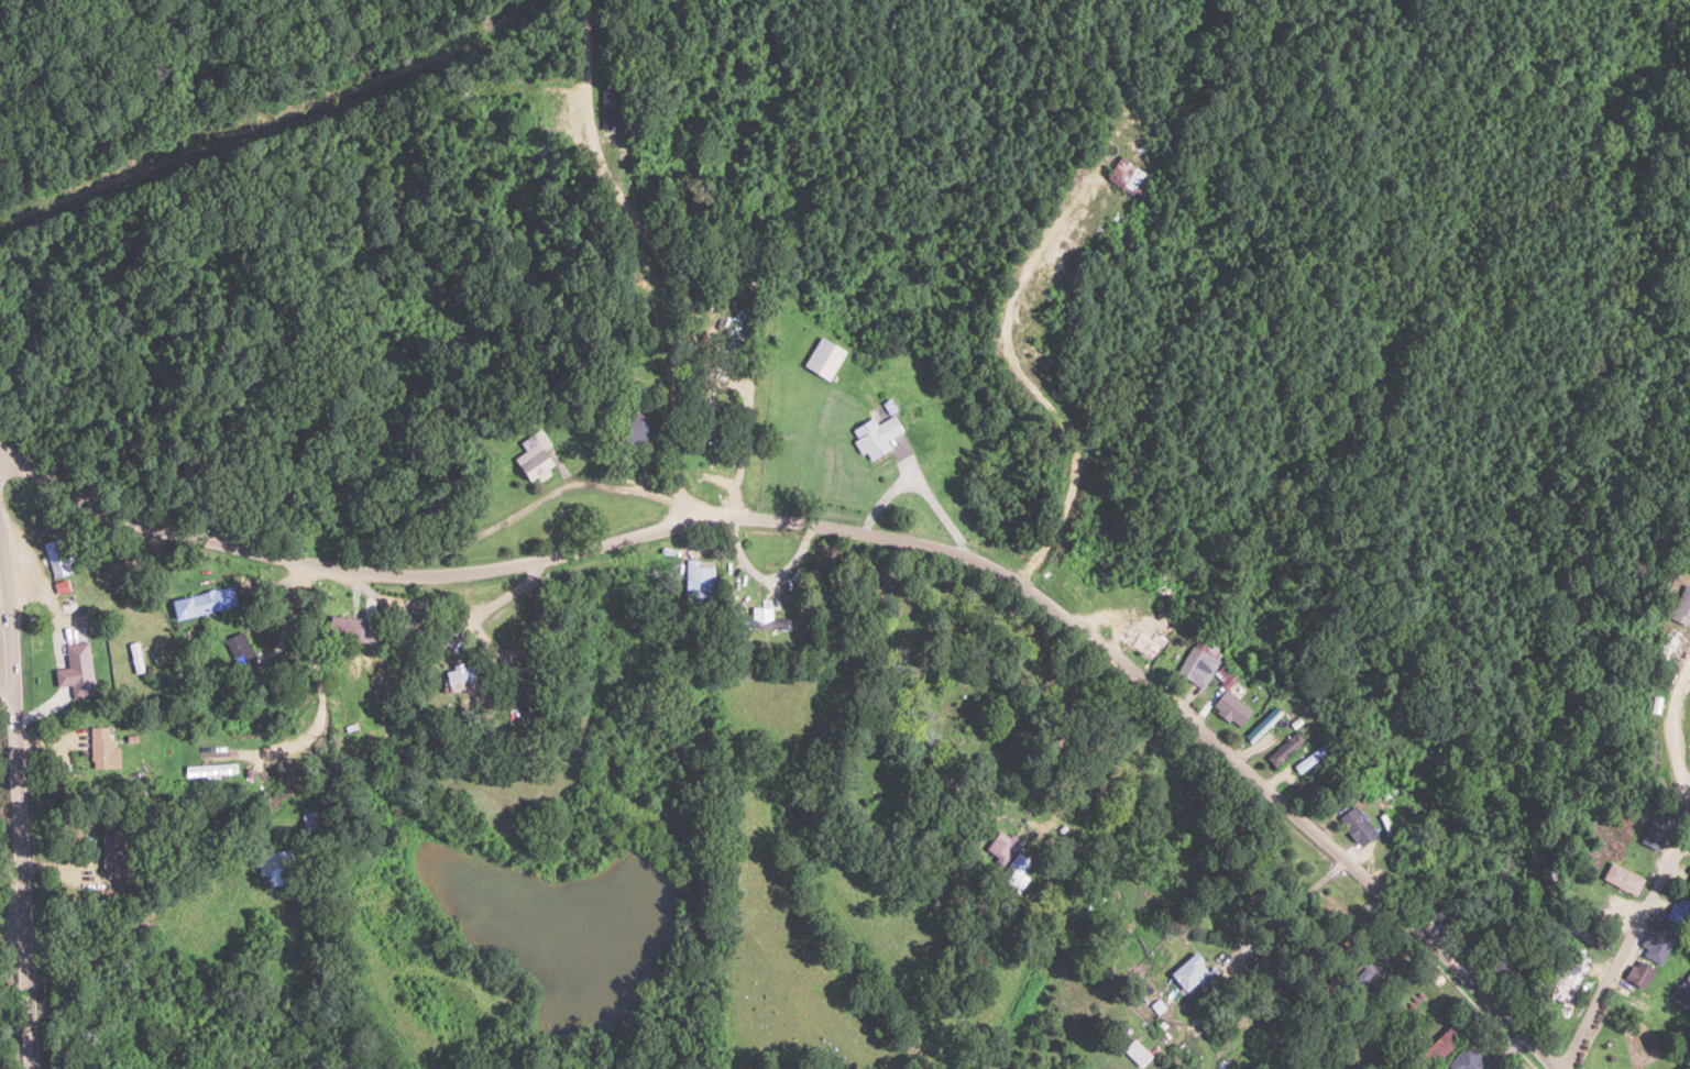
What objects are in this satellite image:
building: (608, 120)
road: (654, 256)
road: (749, 305)
building: (823, 359)
building: (706, 425)
building: (634, 430)
building: (875, 437)
building: (533, 460)
road: (193, 566)
road: (356, 571)
road: (224, 573)
building: (695, 578)
building: (1121, 593)
building: (201, 603)
building: (1681, 606)
building: (762, 615)
building: (351, 628)
building: (1143, 638)
building: (1672, 648)
building: (133, 657)
building: (1193, 665)
building: (456, 677)
road: (6, 697)
building: (1230, 708)
road: (1182, 718)
building: (1259, 724)
building: (100, 748)
building: (1281, 748)
building: (1312, 753)
building: (208, 771)
road: (20, 811)
building: (310, 819)
building: (1353, 825)
building: (1654, 829)
building: (999, 846)
building: (274, 867)
road: (1664, 867)
building: (1012, 872)
building: (1621, 878)
building: (1686, 883)
building: (1676, 911)
building: (1655, 940)
building: (1504, 968)
building: (1187, 972)
building: (1637, 972)
building: (1361, 973)
building: (1562, 980)
building: (1682, 991)
road: (17, 1007)
road: (122, 1009)
building: (1485, 1038)
building: (1445, 1039)
road: (1507, 1050)
building: (1134, 1051)
building: (1468, 1058)

